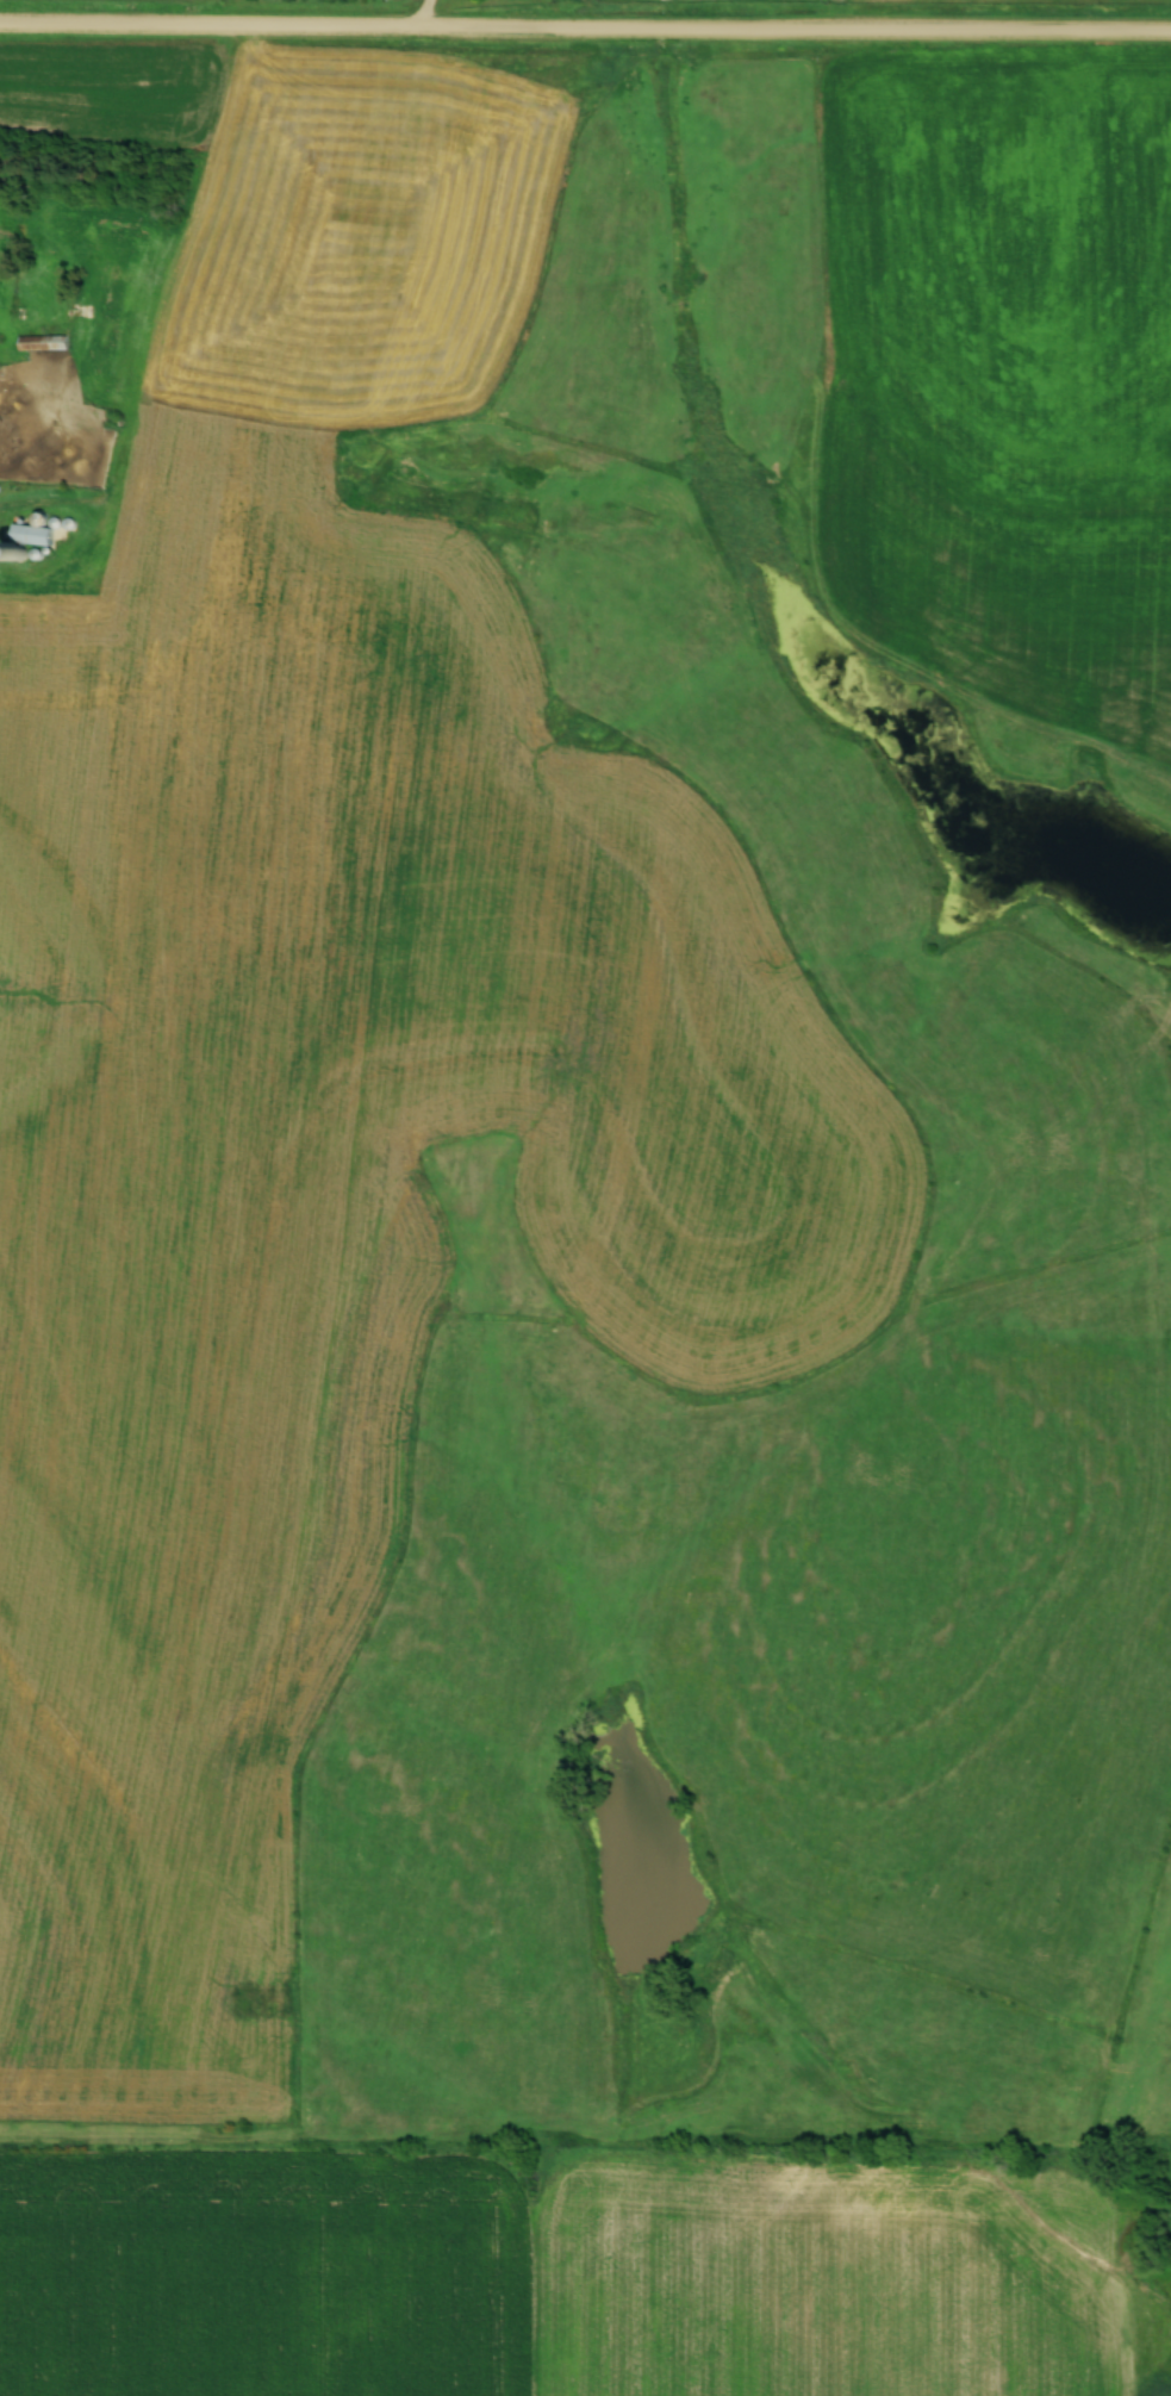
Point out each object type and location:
road: (431, 13)
road: (585, 33)
building: (43, 342)
building: (33, 535)

